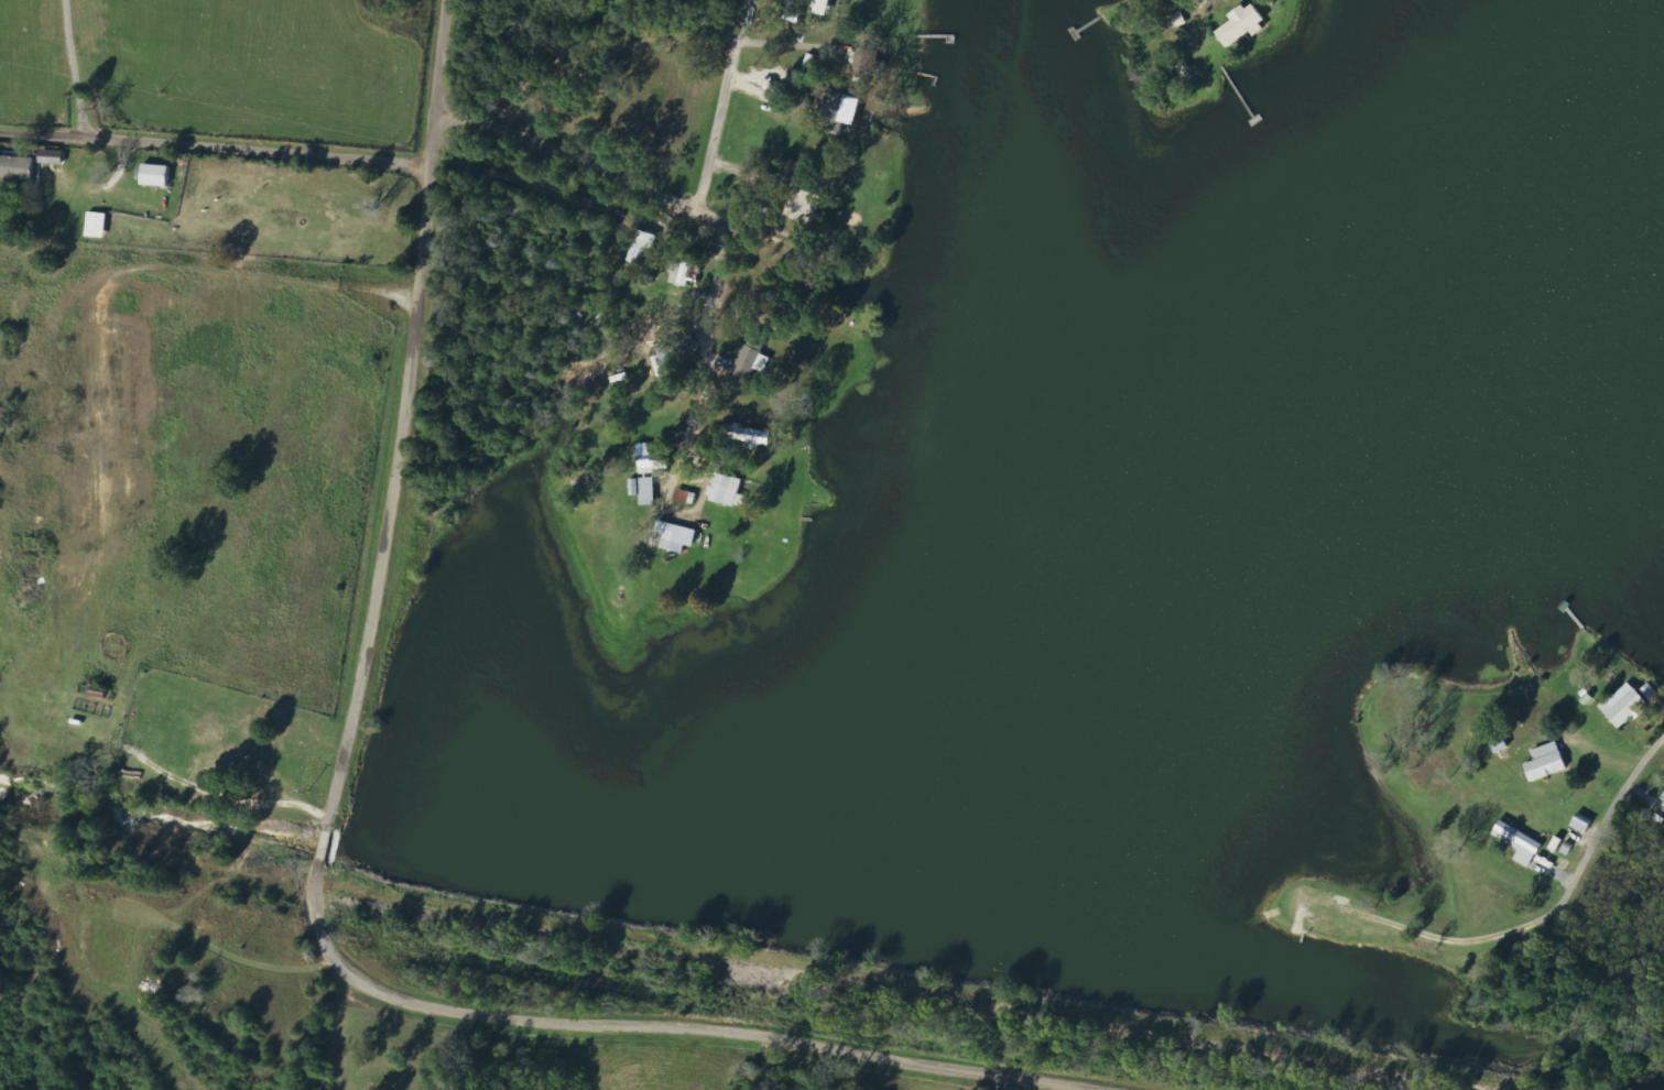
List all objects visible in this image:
building: (823, 7)
building: (1177, 21)
building: (1242, 26)
road: (73, 68)
building: (842, 111)
road: (213, 149)
building: (53, 156)
building: (17, 167)
building: (156, 175)
road: (659, 197)
building: (804, 206)
road: (698, 215)
building: (642, 244)
road: (720, 260)
building: (687, 270)
building: (749, 366)
building: (654, 457)
building: (644, 490)
building: (728, 491)
building: (677, 536)
building: (1650, 691)
building: (1625, 706)
building: (1547, 762)
building: (1662, 800)
road: (351, 829)
building: (1520, 843)
road: (1514, 930)
railway: (773, 952)

